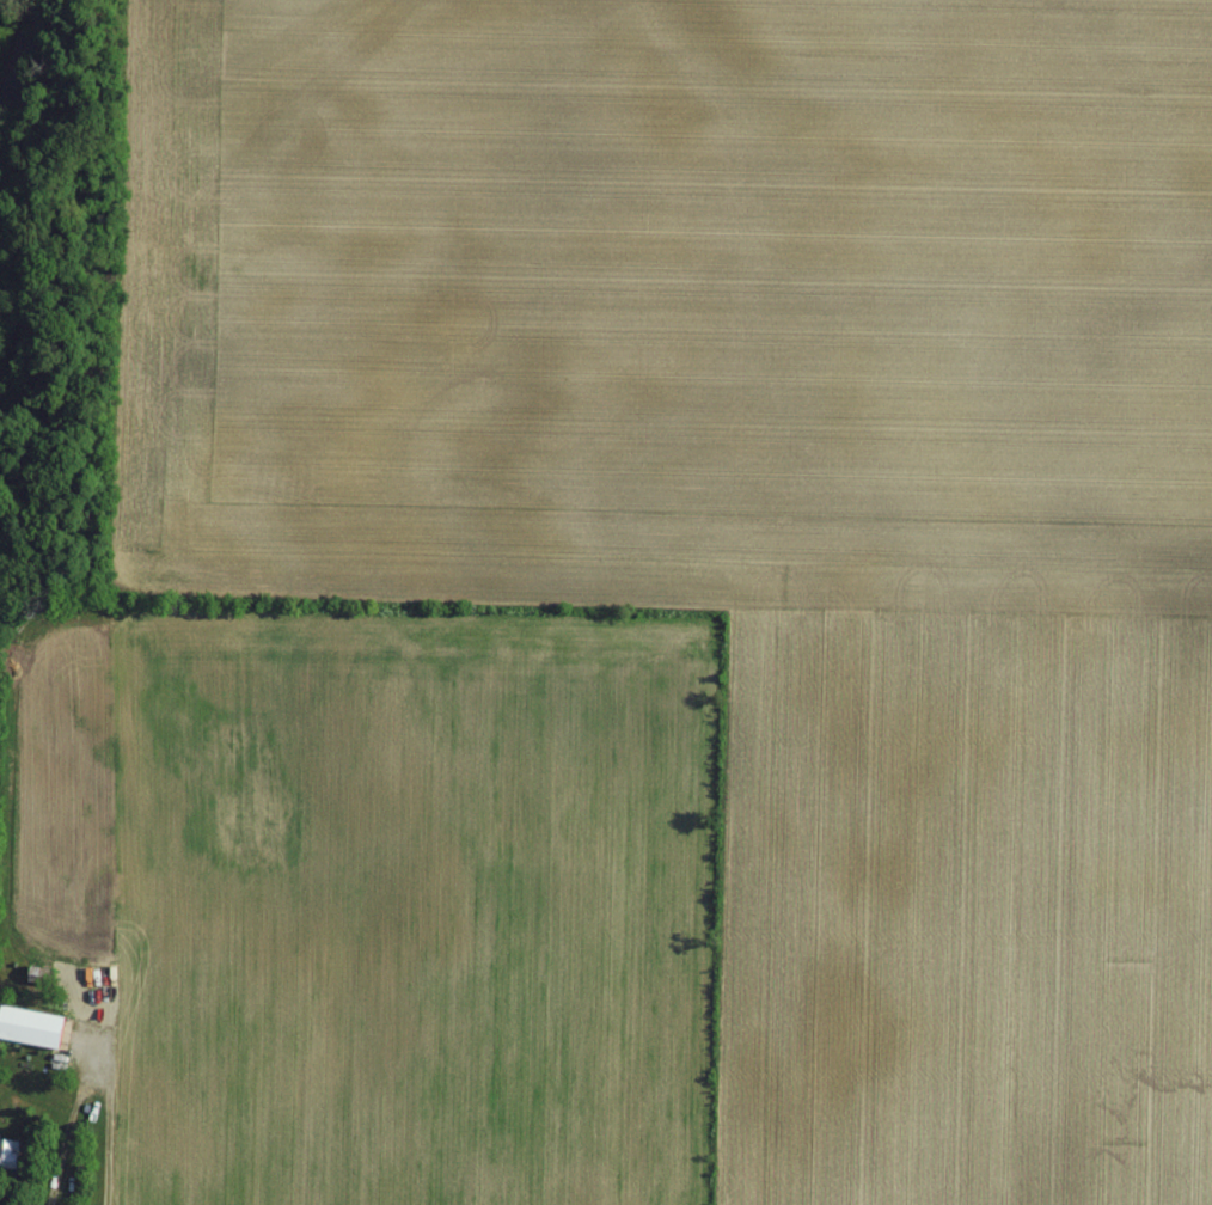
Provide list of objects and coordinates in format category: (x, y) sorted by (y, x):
river: (16, 36)
road: (74, 1089)

